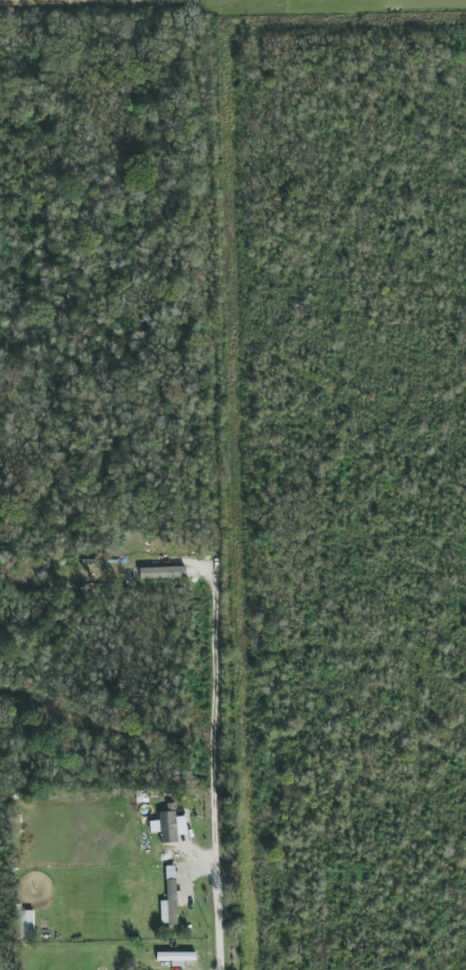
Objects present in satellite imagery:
road: (225, 2)
road: (106, 9)
road: (221, 487)
building: (162, 572)
building: (168, 826)
building: (170, 899)
building: (26, 923)

